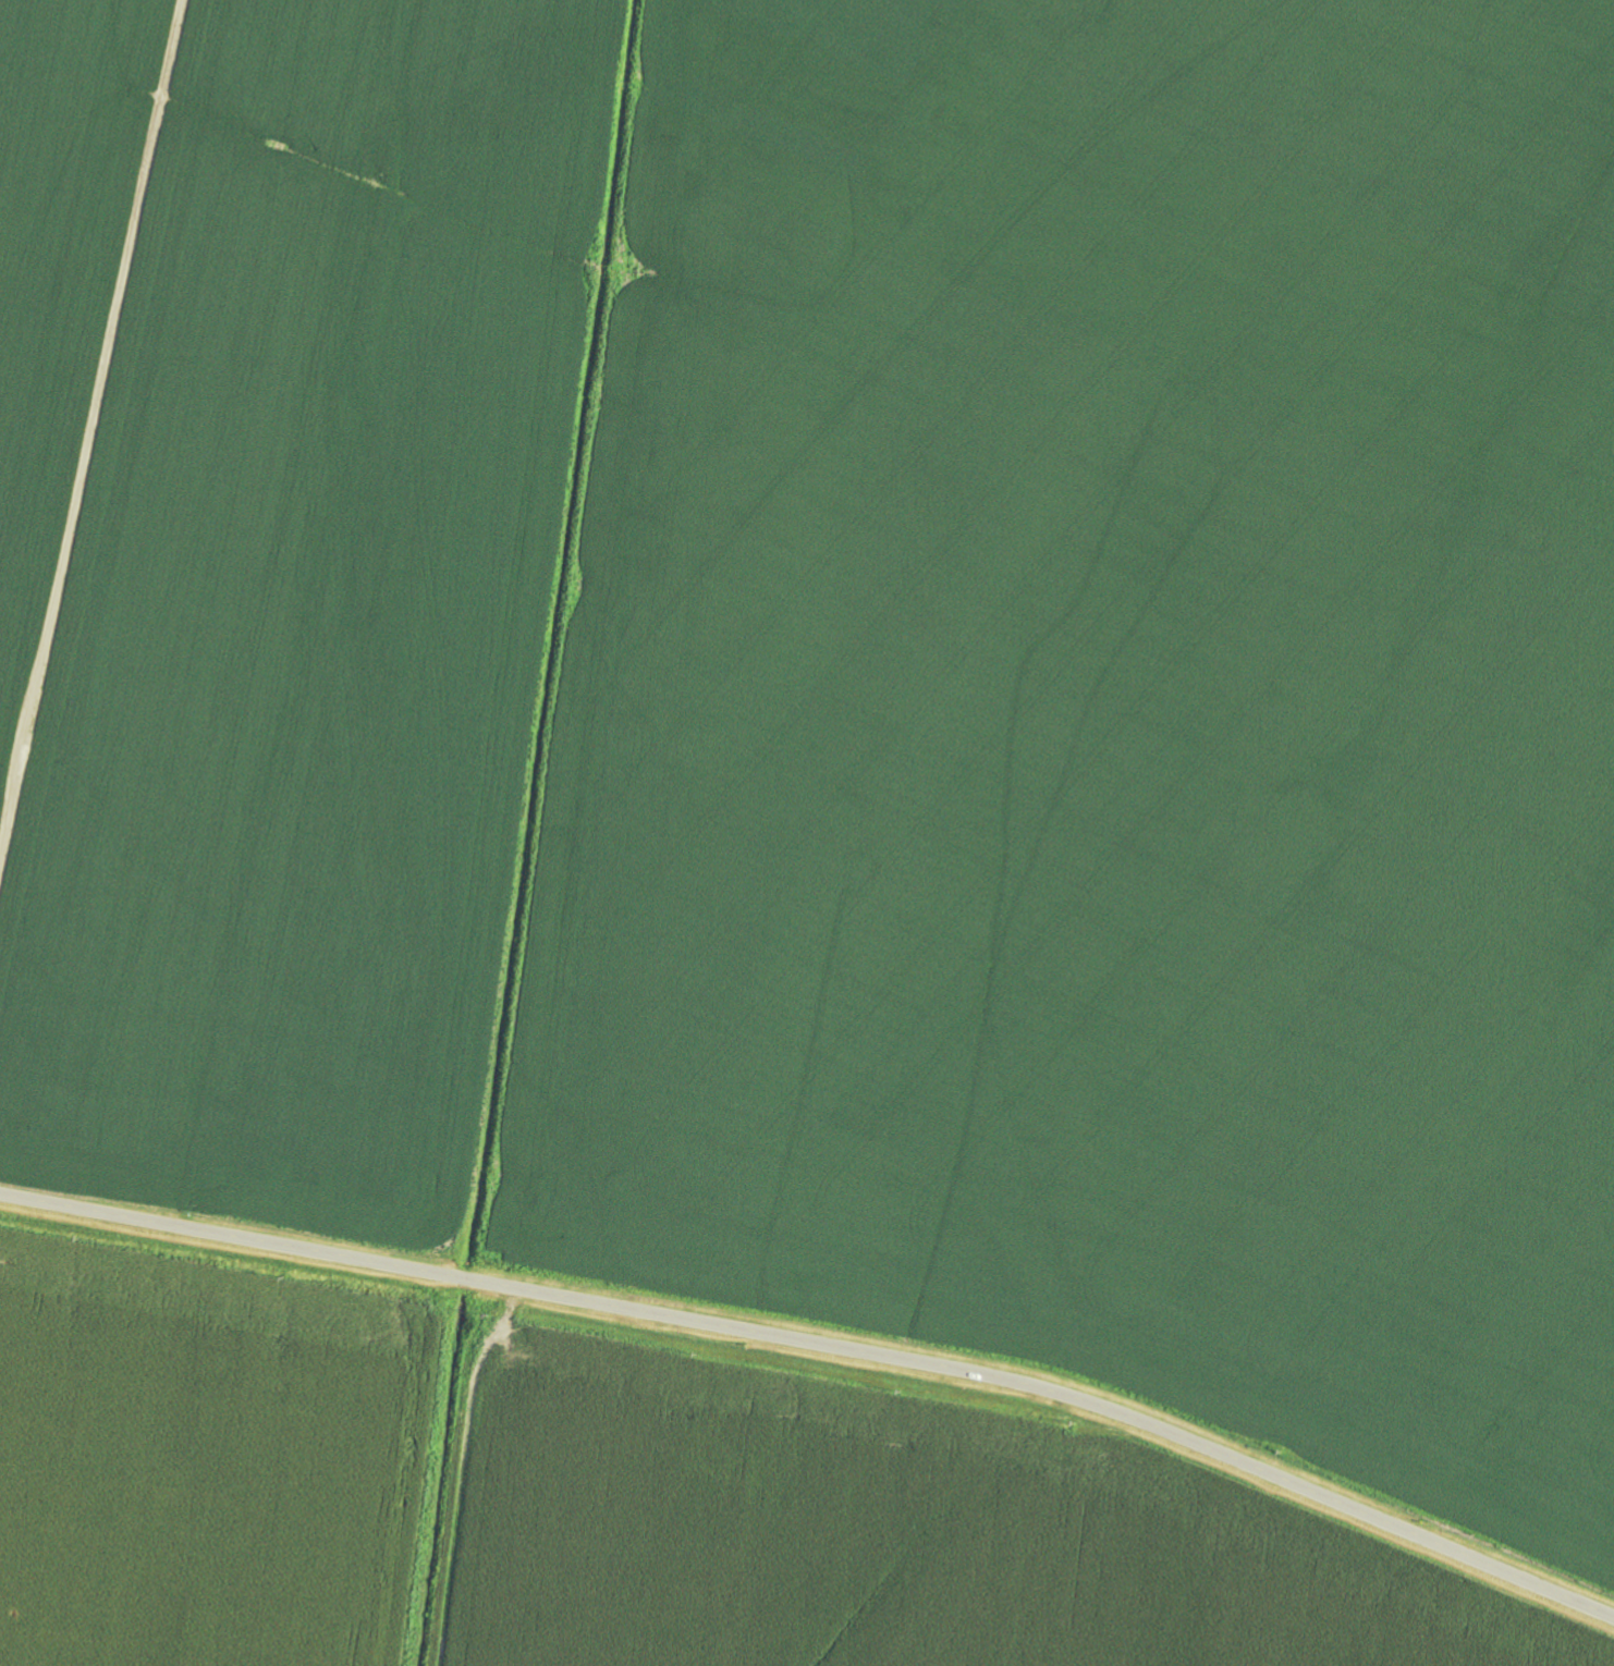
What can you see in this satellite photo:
road: (824, 1343)

